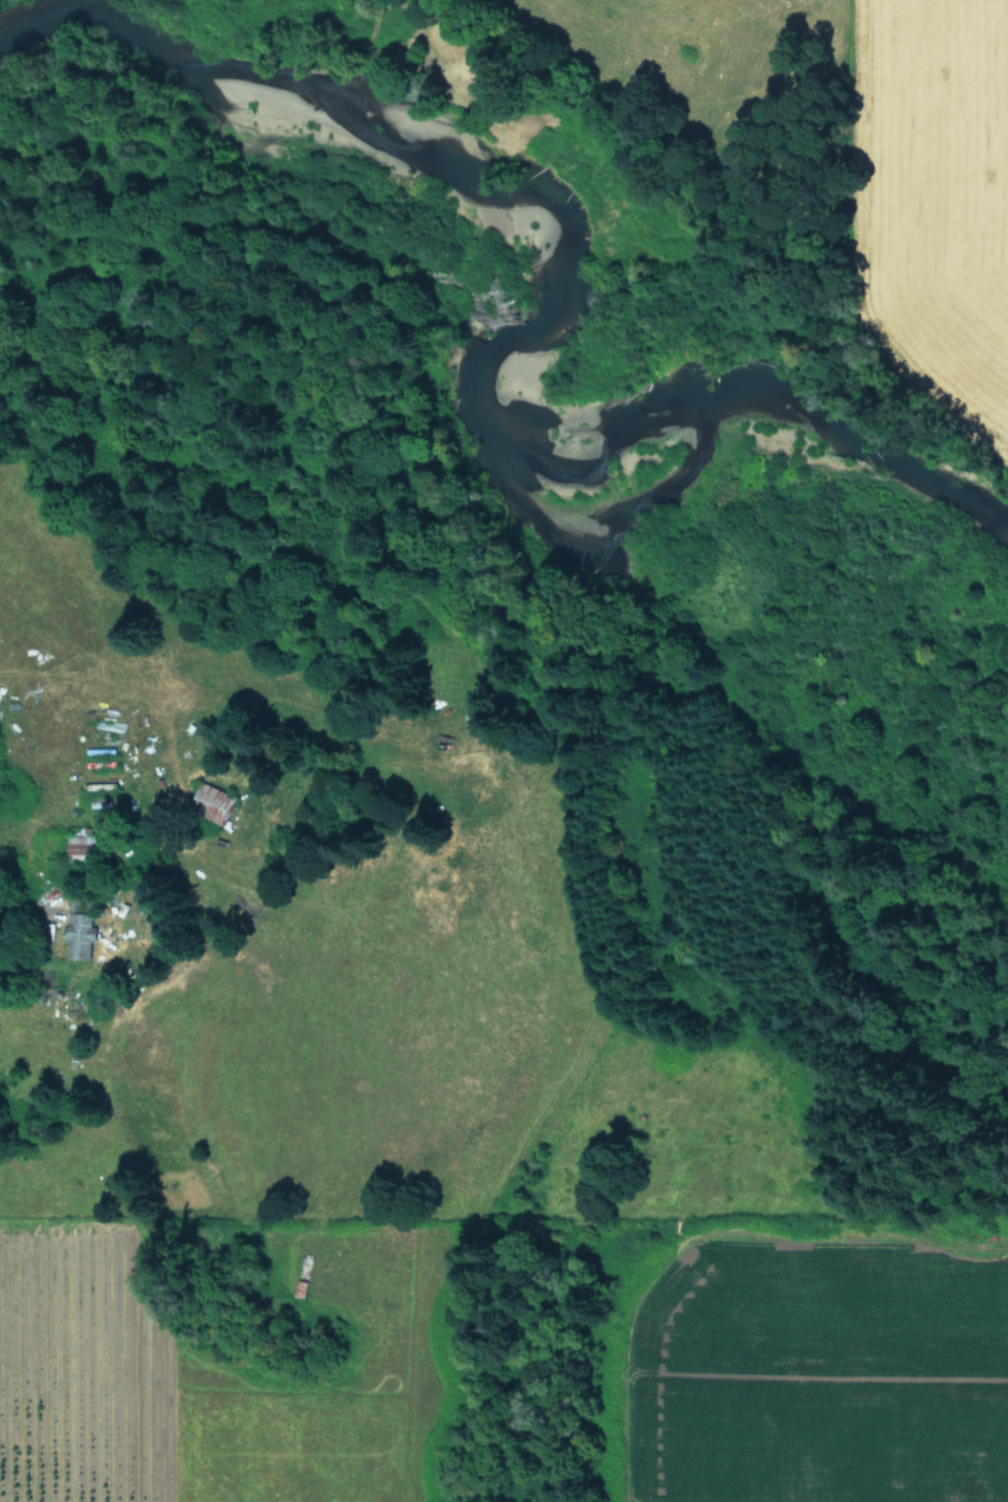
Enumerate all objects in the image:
crop: (914, 176)
building: (87, 842)
building: (80, 935)
crop: (398, 1156)

